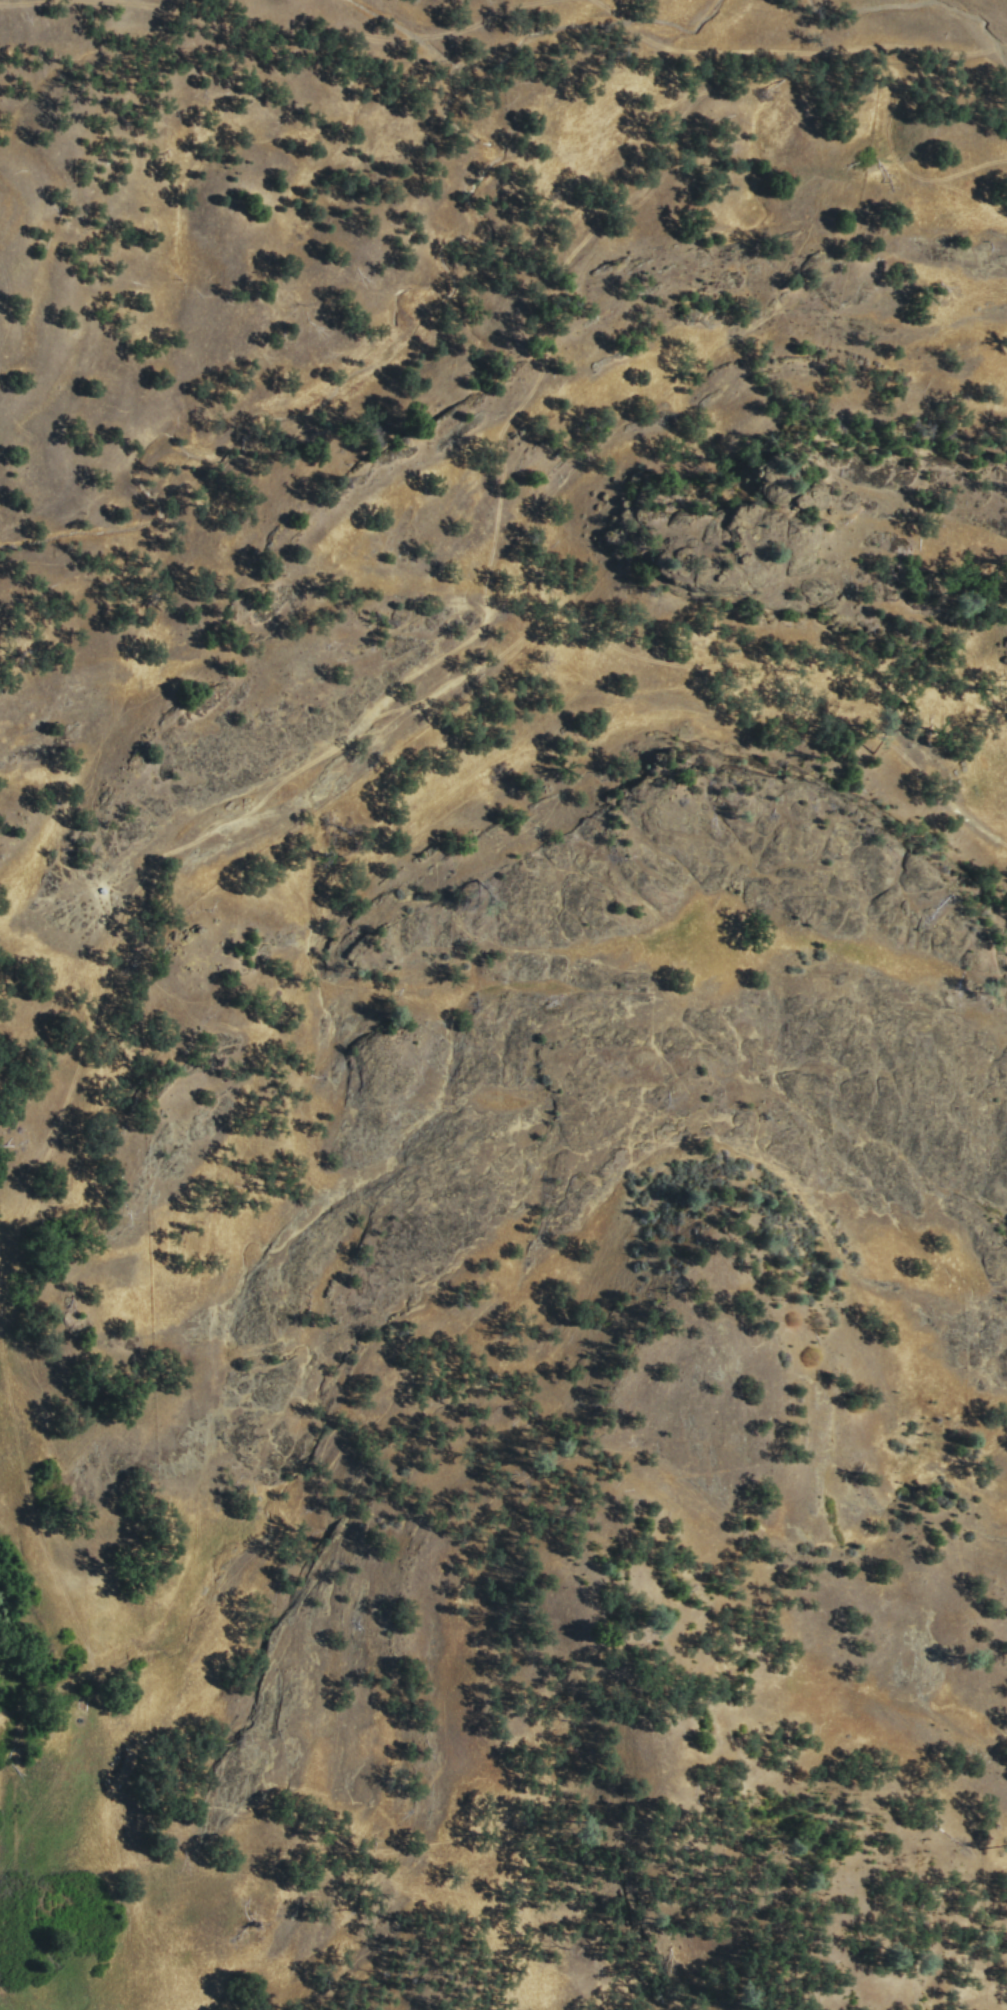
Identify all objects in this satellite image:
road: (276, 30)
road: (796, 50)
road: (896, 159)

